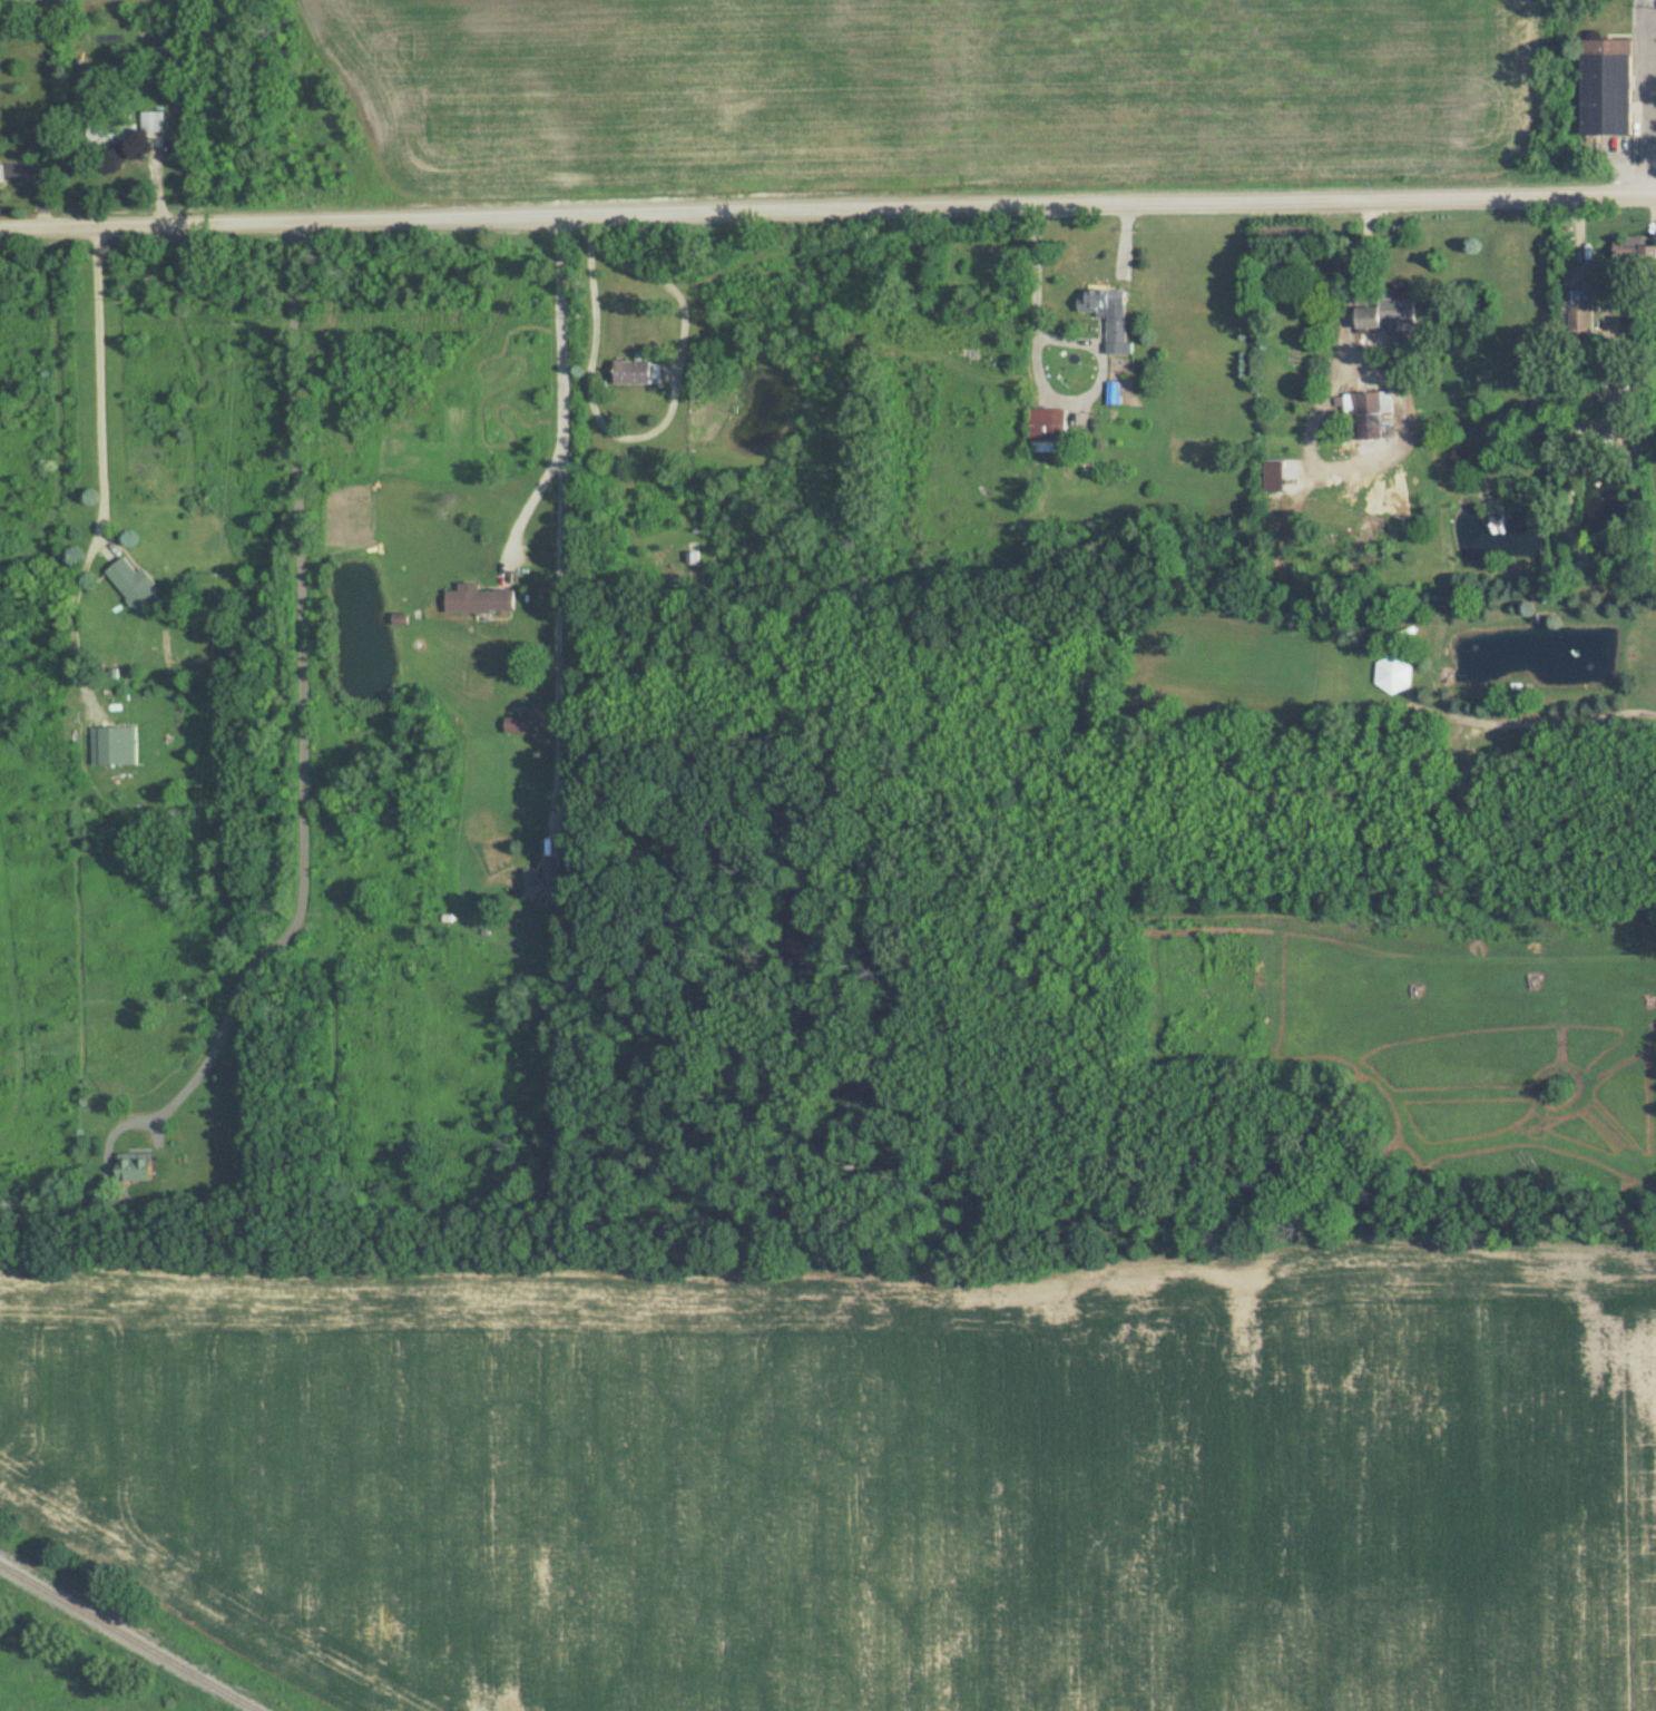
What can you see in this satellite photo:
building: (1606, 86)
road: (1644, 96)
building: (151, 121)
building: (110, 131)
building: (0, 173)
road: (827, 204)
building: (1633, 251)
building: (1386, 314)
building: (1108, 315)
building: (1580, 322)
building: (636, 372)
building: (1368, 410)
building: (1047, 430)
road: (100, 457)
road: (529, 508)
building: (1497, 524)
road: (561, 525)
building: (688, 560)
building: (134, 584)
building: (479, 599)
building: (1393, 673)
road: (303, 692)
building: (516, 724)
building: (115, 745)
building: (547, 881)
building: (134, 1165)
building: (106, 1203)
railway: (126, 1639)

